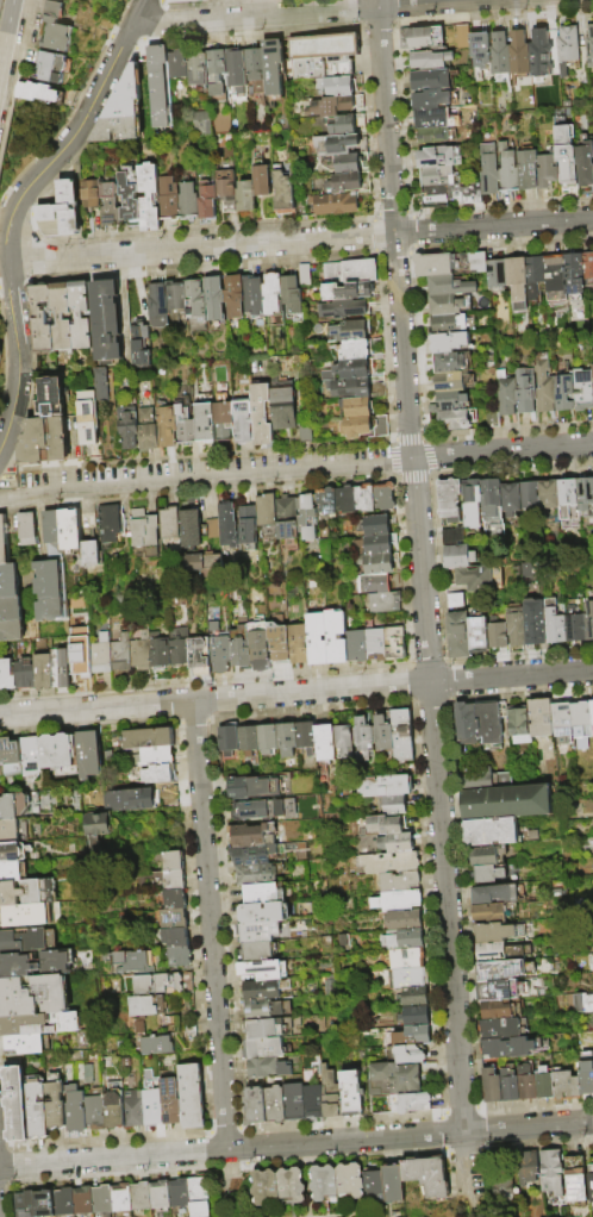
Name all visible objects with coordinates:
building: (183, 1)
road: (316, 14)
building: (56, 27)
road: (6, 30)
building: (463, 36)
building: (423, 38)
building: (589, 42)
building: (481, 48)
building: (568, 48)
building: (519, 51)
building: (539, 51)
building: (500, 52)
building: (327, 55)
building: (430, 60)
building: (181, 63)
building: (51, 65)
building: (277, 67)
building: (201, 69)
building: (239, 69)
building: (260, 69)
building: (219, 71)
building: (431, 79)
building: (342, 86)
building: (163, 87)
building: (37, 92)
building: (433, 98)
building: (338, 106)
building: (125, 111)
road: (386, 117)
building: (435, 118)
building: (200, 123)
building: (350, 125)
building: (432, 135)
building: (344, 145)
building: (567, 154)
building: (438, 155)
building: (349, 163)
building: (586, 164)
building: (529, 168)
building: (489, 169)
building: (547, 169)
building: (508, 170)
building: (438, 175)
building: (264, 180)
building: (345, 183)
building: (230, 191)
building: (287, 193)
building: (469, 193)
building: (93, 195)
building: (437, 195)
building: (249, 196)
building: (152, 198)
building: (133, 199)
building: (173, 199)
building: (210, 200)
building: (192, 201)
building: (338, 204)
building: (114, 205)
building: (67, 208)
road: (13, 212)
road: (494, 226)
road: (201, 249)
building: (480, 262)
building: (437, 264)
building: (588, 266)
building: (350, 272)
building: (499, 274)
building: (305, 275)
building: (536, 275)
building: (576, 276)
building: (557, 277)
building: (518, 282)
building: (447, 286)
building: (347, 291)
building: (274, 294)
building: (293, 294)
building: (254, 297)
building: (236, 298)
building: (217, 299)
building: (177, 300)
building: (196, 301)
building: (448, 304)
building: (160, 306)
building: (343, 308)
building: (88, 317)
building: (69, 318)
building: (48, 319)
building: (113, 323)
building: (450, 324)
building: (349, 330)
building: (449, 342)
building: (142, 347)
building: (354, 350)
building: (451, 362)
building: (348, 370)
building: (451, 381)
building: (100, 382)
building: (545, 386)
building: (356, 388)
building: (526, 391)
building: (566, 392)
building: (588, 392)
building: (61, 394)
building: (504, 401)
building: (450, 402)
road: (8, 405)
building: (360, 407)
building: (287, 410)
building: (264, 416)
building: (456, 419)
building: (226, 420)
building: (93, 423)
building: (245, 424)
building: (207, 425)
building: (187, 427)
building: (363, 427)
building: (169, 429)
building: (150, 431)
building: (132, 432)
building: (51, 443)
road: (412, 458)
road: (295, 470)
building: (529, 495)
building: (585, 495)
building: (387, 497)
building: (510, 498)
building: (368, 499)
building: (449, 499)
building: (348, 500)
building: (548, 501)
building: (329, 503)
building: (470, 503)
building: (568, 503)
building: (491, 506)
building: (270, 516)
building: (310, 517)
building: (289, 519)
building: (114, 524)
building: (173, 525)
building: (230, 525)
building: (377, 526)
building: (250, 528)
building: (146, 529)
building: (193, 529)
building: (31, 530)
building: (213, 530)
building: (73, 531)
building: (452, 536)
building: (5, 541)
building: (376, 545)
building: (457, 556)
building: (94, 557)
building: (212, 560)
building: (193, 561)
building: (380, 564)
building: (54, 575)
building: (477, 578)
building: (10, 581)
building: (375, 583)
building: (455, 600)
building: (387, 603)
building: (589, 618)
building: (531, 619)
building: (575, 619)
building: (13, 620)
building: (554, 620)
building: (516, 628)
building: (476, 631)
building: (457, 635)
building: (497, 636)
building: (339, 637)
building: (320, 639)
building: (377, 643)
building: (398, 643)
building: (261, 644)
building: (281, 644)
building: (301, 645)
building: (181, 647)
building: (358, 647)
building: (162, 651)
building: (143, 653)
building: (124, 654)
building: (223, 654)
building: (243, 654)
building: (104, 655)
building: (202, 657)
building: (83, 660)
building: (63, 669)
building: (45, 673)
building: (8, 675)
building: (27, 675)
road: (511, 676)
road: (312, 692)
road: (96, 709)
building: (544, 718)
building: (583, 718)
building: (566, 723)
building: (469, 724)
building: (492, 724)
building: (519, 724)
building: (146, 735)
building: (385, 735)
building: (405, 736)
building: (308, 738)
building: (269, 739)
building: (289, 739)
building: (366, 739)
building: (250, 742)
building: (348, 742)
building: (231, 743)
building: (327, 743)
building: (155, 754)
building: (63, 755)
building: (92, 755)
building: (32, 757)
building: (13, 759)
building: (2, 761)
building: (156, 772)
building: (489, 781)
building: (386, 787)
building: (242, 790)
building: (133, 797)
building: (18, 804)
building: (508, 804)
building: (397, 806)
building: (262, 811)
building: (389, 826)
building: (12, 829)
building: (94, 830)
building: (498, 832)
building: (256, 836)
building: (388, 844)
building: (12, 849)
building: (256, 856)
building: (163, 857)
building: (491, 857)
building: (392, 863)
building: (12, 869)
building: (492, 874)
building: (261, 875)
building: (160, 878)
building: (401, 882)
building: (26, 891)
building: (266, 894)
building: (498, 895)
building: (173, 899)
building: (399, 901)
road: (447, 907)
building: (23, 913)
building: (267, 913)
building: (495, 913)
building: (171, 918)
building: (405, 922)
road: (211, 925)
building: (499, 932)
building: (261, 934)
building: (174, 937)
building: (26, 940)
building: (410, 941)
building: (258, 953)
building: (504, 954)
building: (177, 956)
building: (125, 960)
building: (410, 960)
building: (36, 962)
building: (267, 971)
building: (506, 972)
building: (410, 978)
building: (162, 982)
building: (268, 991)
building: (498, 992)
building: (33, 996)
building: (414, 997)
building: (583, 1004)
building: (148, 1009)
building: (269, 1010)
building: (504, 1011)
building: (418, 1016)
building: (39, 1023)
building: (267, 1029)
building: (506, 1029)
building: (188, 1030)
building: (419, 1035)
building: (27, 1042)
building: (155, 1043)
building: (514, 1048)
building: (268, 1049)
building: (412, 1055)
building: (270, 1069)
building: (545, 1075)
building: (587, 1076)
building: (397, 1080)
building: (529, 1082)
building: (567, 1084)
building: (512, 1085)
building: (494, 1086)
building: (333, 1093)
building: (354, 1093)
building: (189, 1094)
building: (55, 1101)
building: (168, 1101)
building: (306, 1101)
building: (15, 1104)
building: (404, 1104)
road: (538, 1104)
building: (36, 1105)
building: (112, 1105)
building: (268, 1106)
building: (131, 1107)
building: (150, 1107)
road: (461, 1109)
building: (74, 1110)
building: (94, 1110)
road: (485, 1128)
road: (529, 1128)
road: (442, 1131)
road: (345, 1141)
road: (539, 1143)
road: (466, 1148)
road: (113, 1159)
road: (467, 1166)
building: (528, 1167)
building: (553, 1171)
building: (424, 1174)
building: (348, 1179)
building: (575, 1179)
building: (320, 1181)
building: (389, 1181)
road: (221, 1182)
building: (288, 1184)
building: (591, 1184)
building: (262, 1185)
building: (370, 1185)
building: (500, 1187)
building: (156, 1192)
building: (137, 1194)
building: (176, 1194)
building: (195, 1196)
building: (80, 1199)
building: (118, 1199)
building: (61, 1200)
building: (99, 1200)
building: (42, 1202)
building: (23, 1203)

